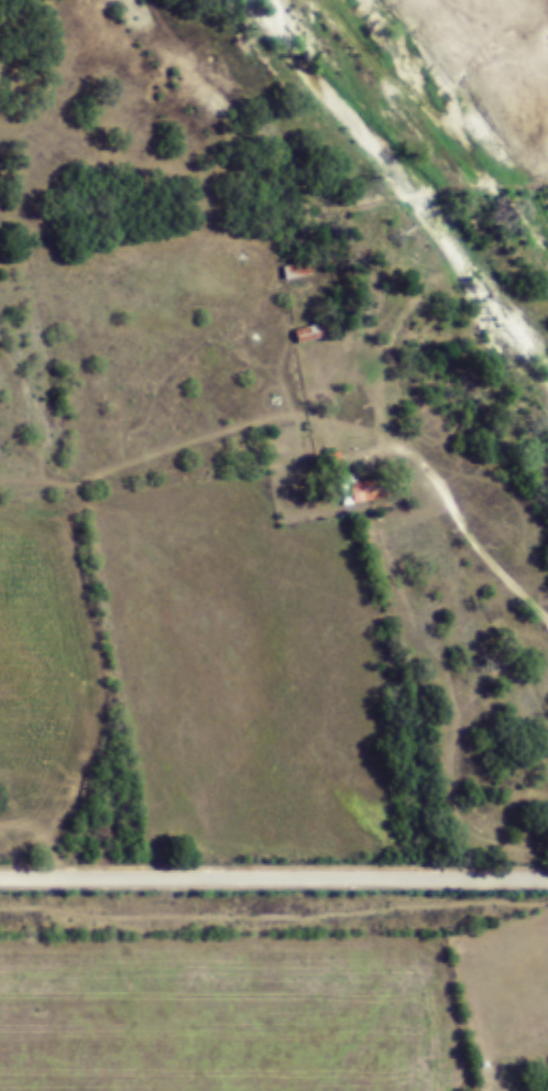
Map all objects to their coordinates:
river: (398, 181)
road: (491, 556)
road: (274, 875)

